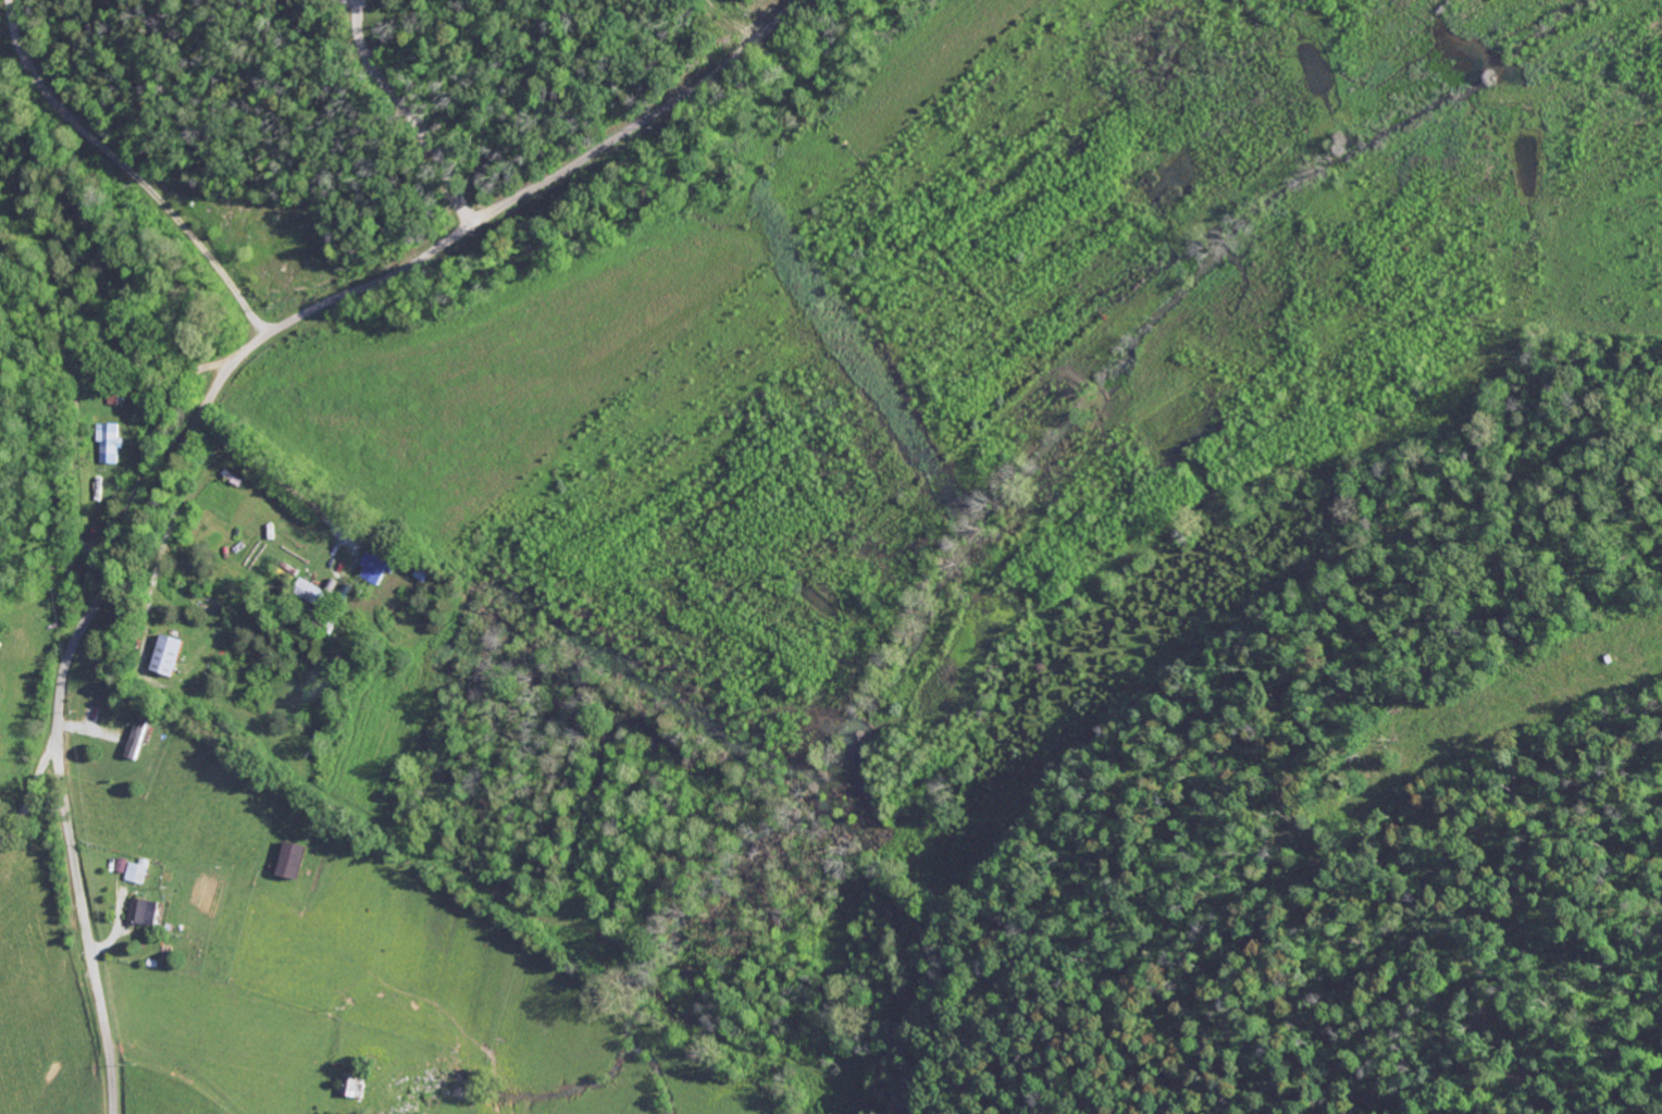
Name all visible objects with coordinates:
road: (284, 321)
building: (110, 443)
building: (380, 567)
building: (312, 594)
building: (168, 655)
park: (97, 656)
building: (136, 739)
road: (33, 791)
road: (36, 863)
building: (288, 863)
building: (137, 871)
building: (144, 913)
road: (96, 986)
road: (163, 1102)

